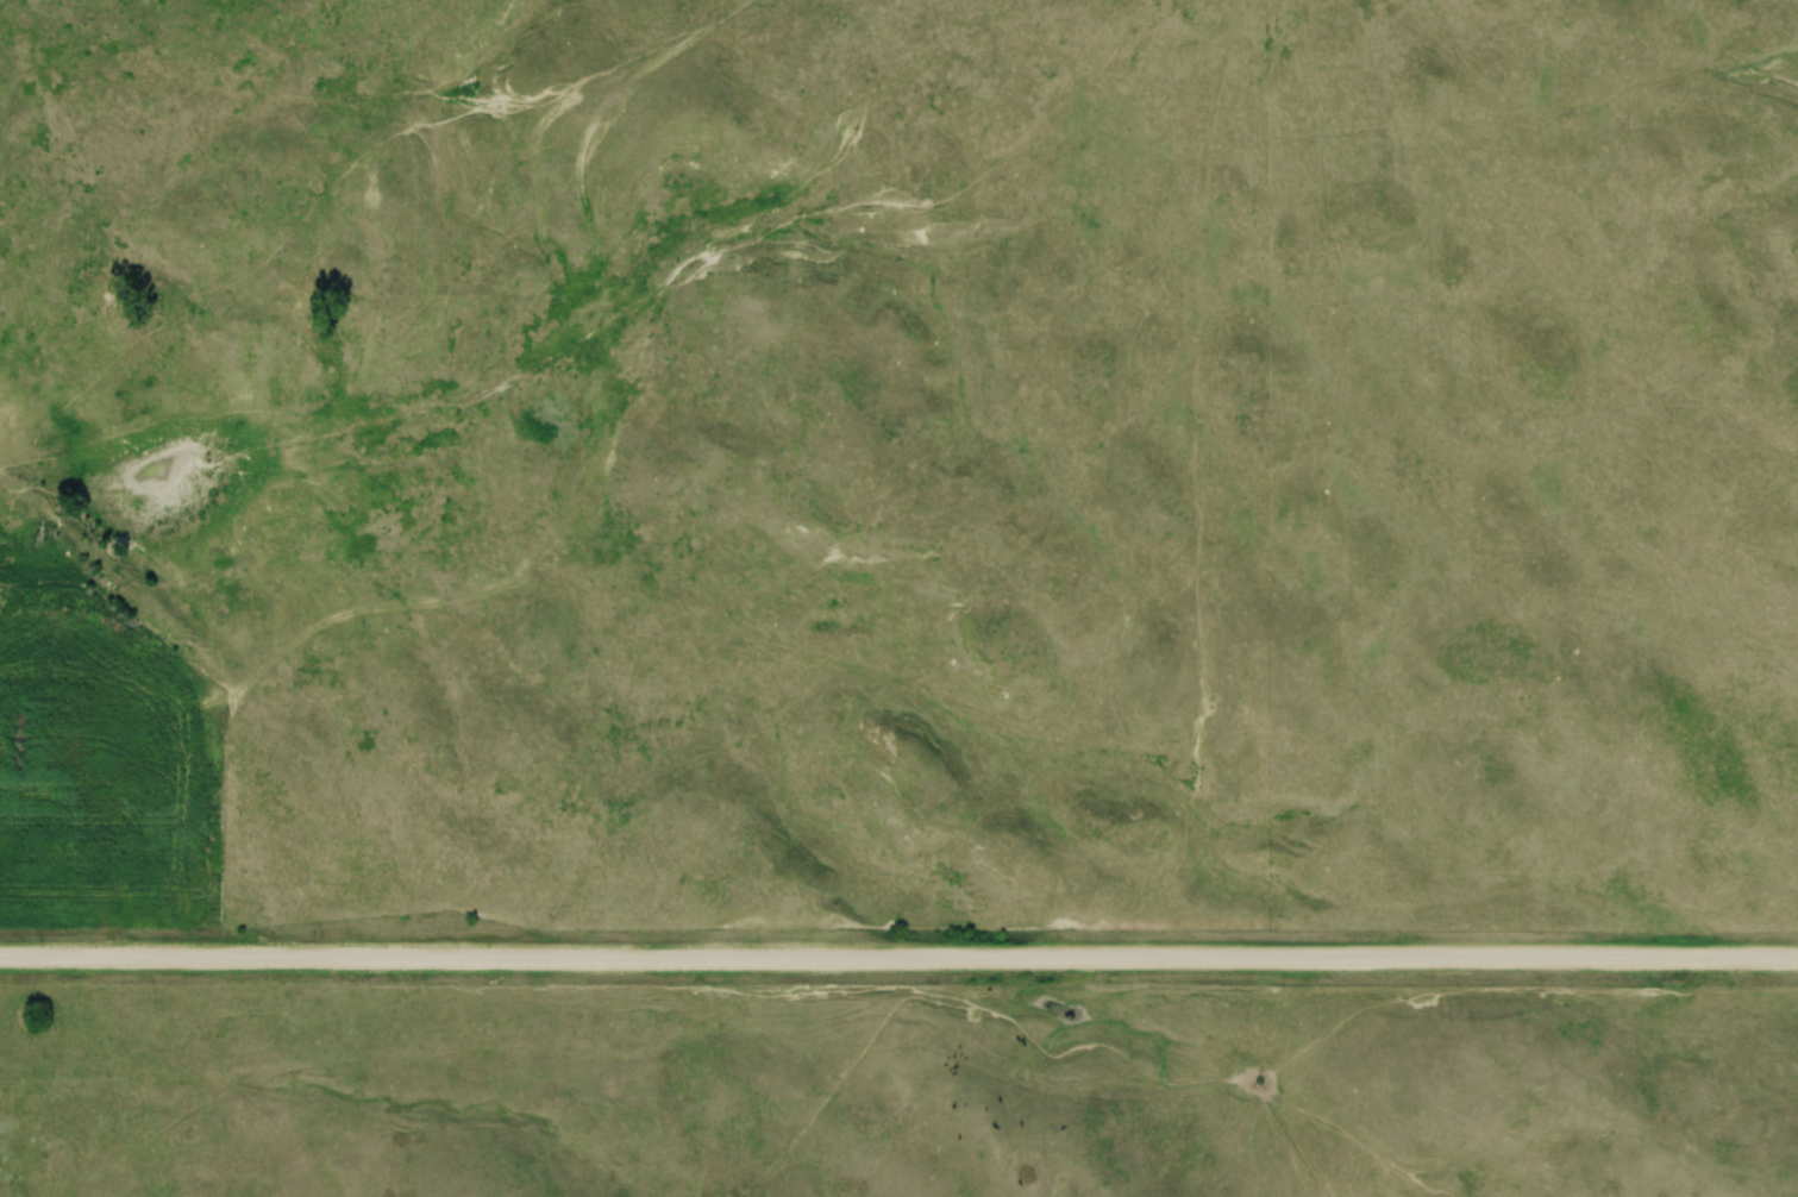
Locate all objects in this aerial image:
road: (898, 966)

